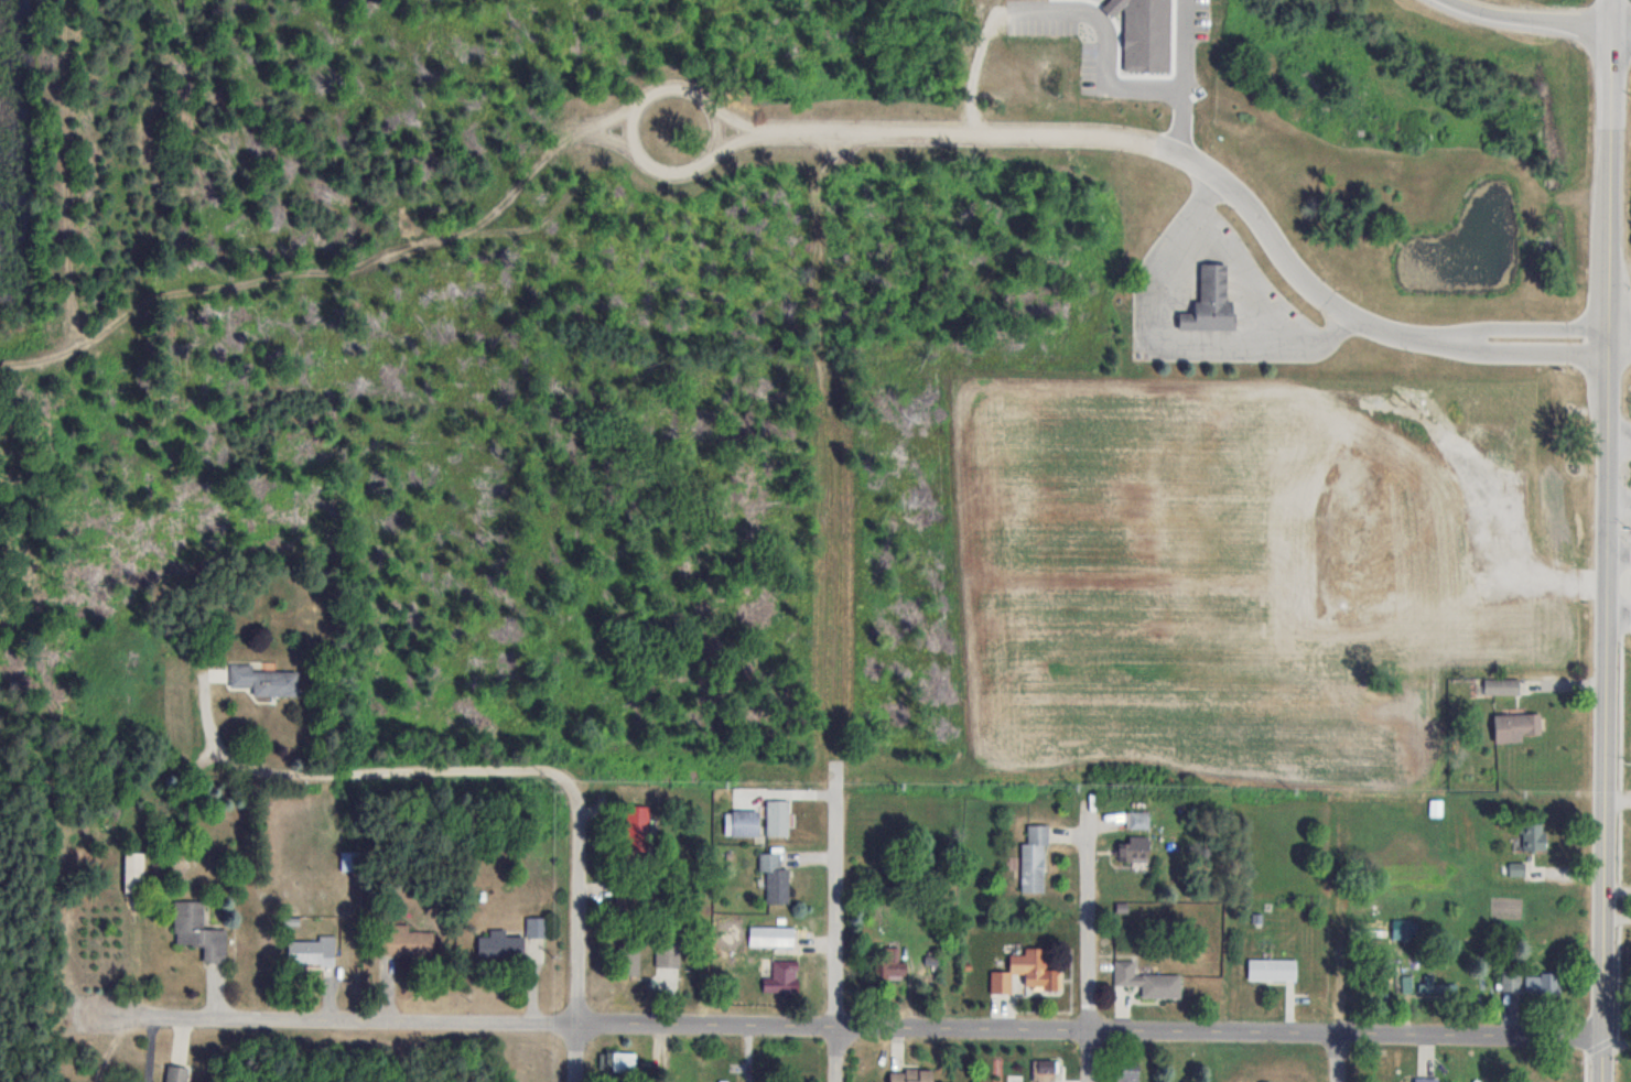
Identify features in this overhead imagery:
road: (1531, 17)
road: (1622, 23)
road: (712, 107)
road: (615, 118)
road: (734, 121)
road: (1110, 134)
road: (613, 140)
road: (732, 142)
building: (1209, 301)
road: (1499, 327)
road: (1619, 327)
road: (1498, 351)
road: (1619, 351)
road: (1607, 389)
road: (1619, 434)
road: (1619, 559)
building: (263, 681)
building: (1502, 686)
road: (199, 719)
building: (1513, 728)
road: (391, 770)
building: (777, 818)
building: (636, 820)
building: (1139, 820)
building: (744, 822)
building: (1534, 836)
building: (1134, 850)
building: (1034, 859)
building: (134, 874)
building: (774, 877)
building: (637, 888)
road: (835, 920)
building: (536, 927)
road: (577, 929)
road: (1605, 930)
building: (197, 931)
building: (771, 935)
road: (1088, 941)
building: (404, 942)
building: (498, 945)
building: (311, 951)
building: (667, 955)
building: (627, 956)
building: (889, 963)
building: (1272, 970)
building: (1027, 973)
building: (782, 978)
building: (1147, 982)
building: (1510, 982)
building: (1406, 984)
building: (1542, 986)
building: (1438, 987)
road: (853, 1026)
road: (1339, 1057)
building: (616, 1064)
building: (1045, 1071)
building: (1126, 1072)
building: (175, 1073)
building: (910, 1074)
building: (1425, 1079)

